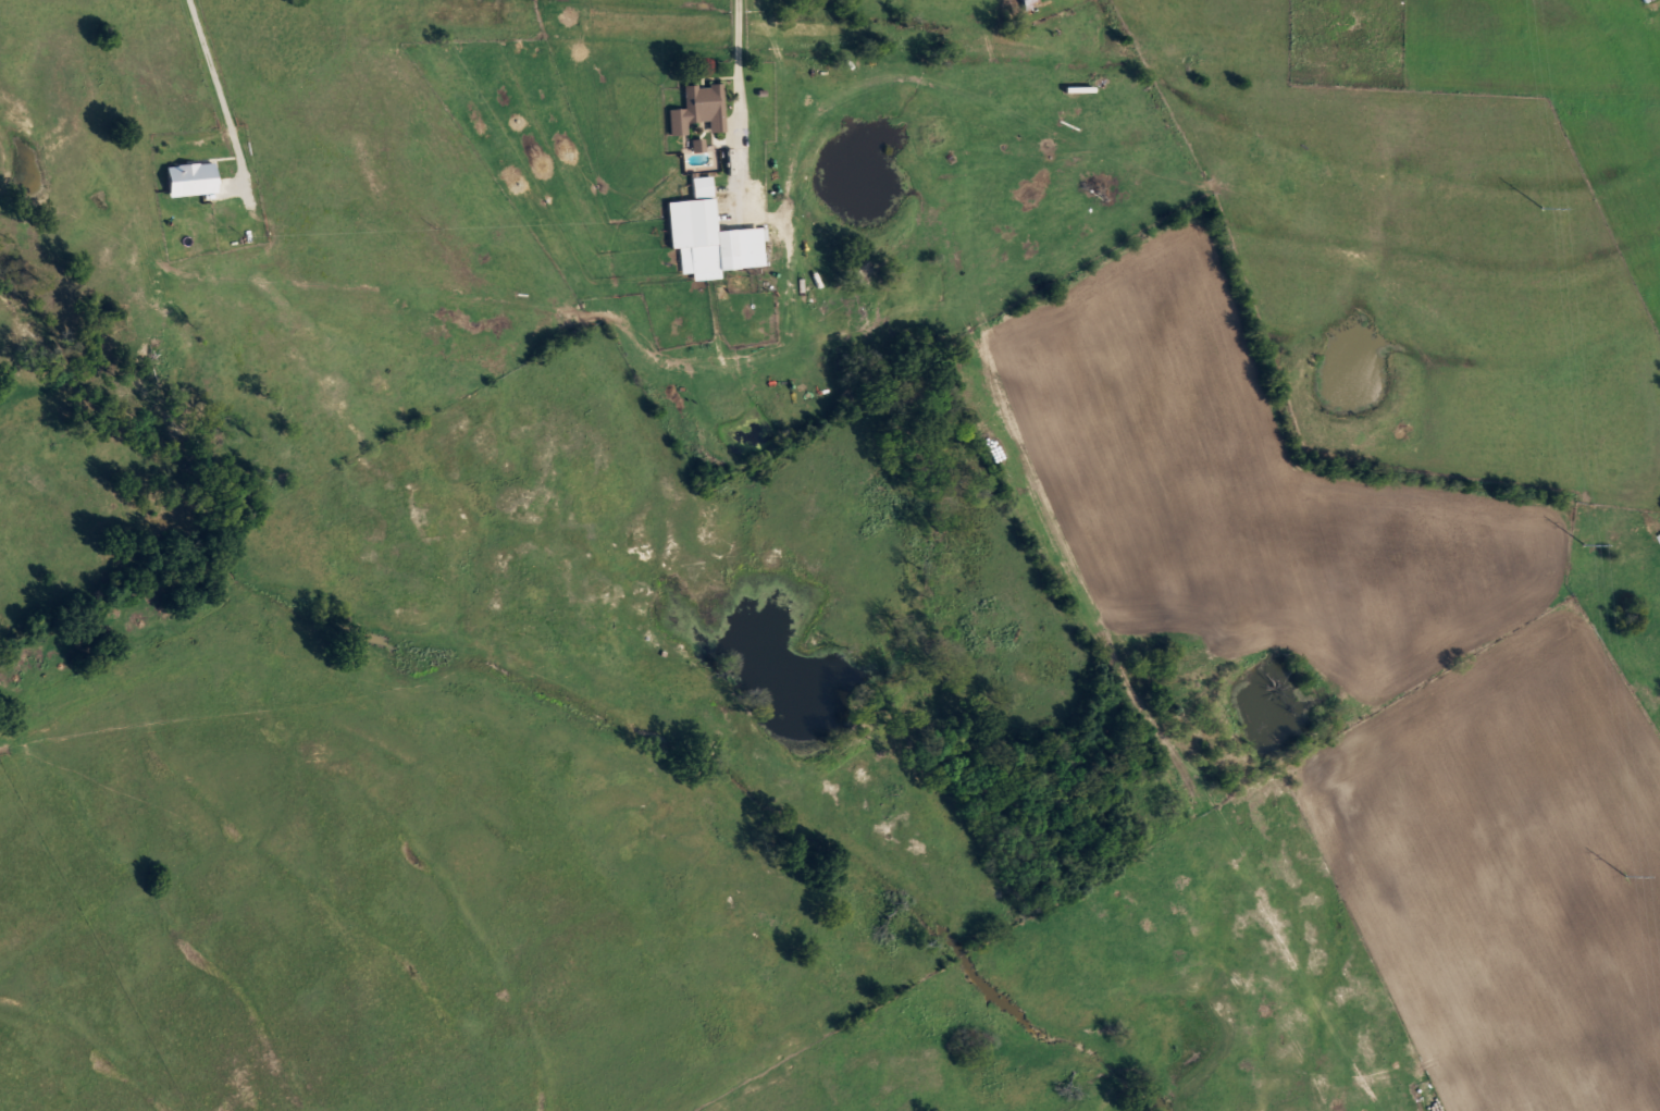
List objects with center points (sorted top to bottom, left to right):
building: (1024, 0)
railway: (1081, 30)
road: (736, 65)
building: (694, 107)
power tower: (1539, 209)
building: (705, 231)
building: (1658, 536)
power tower: (1583, 544)
power tower: (1624, 875)

